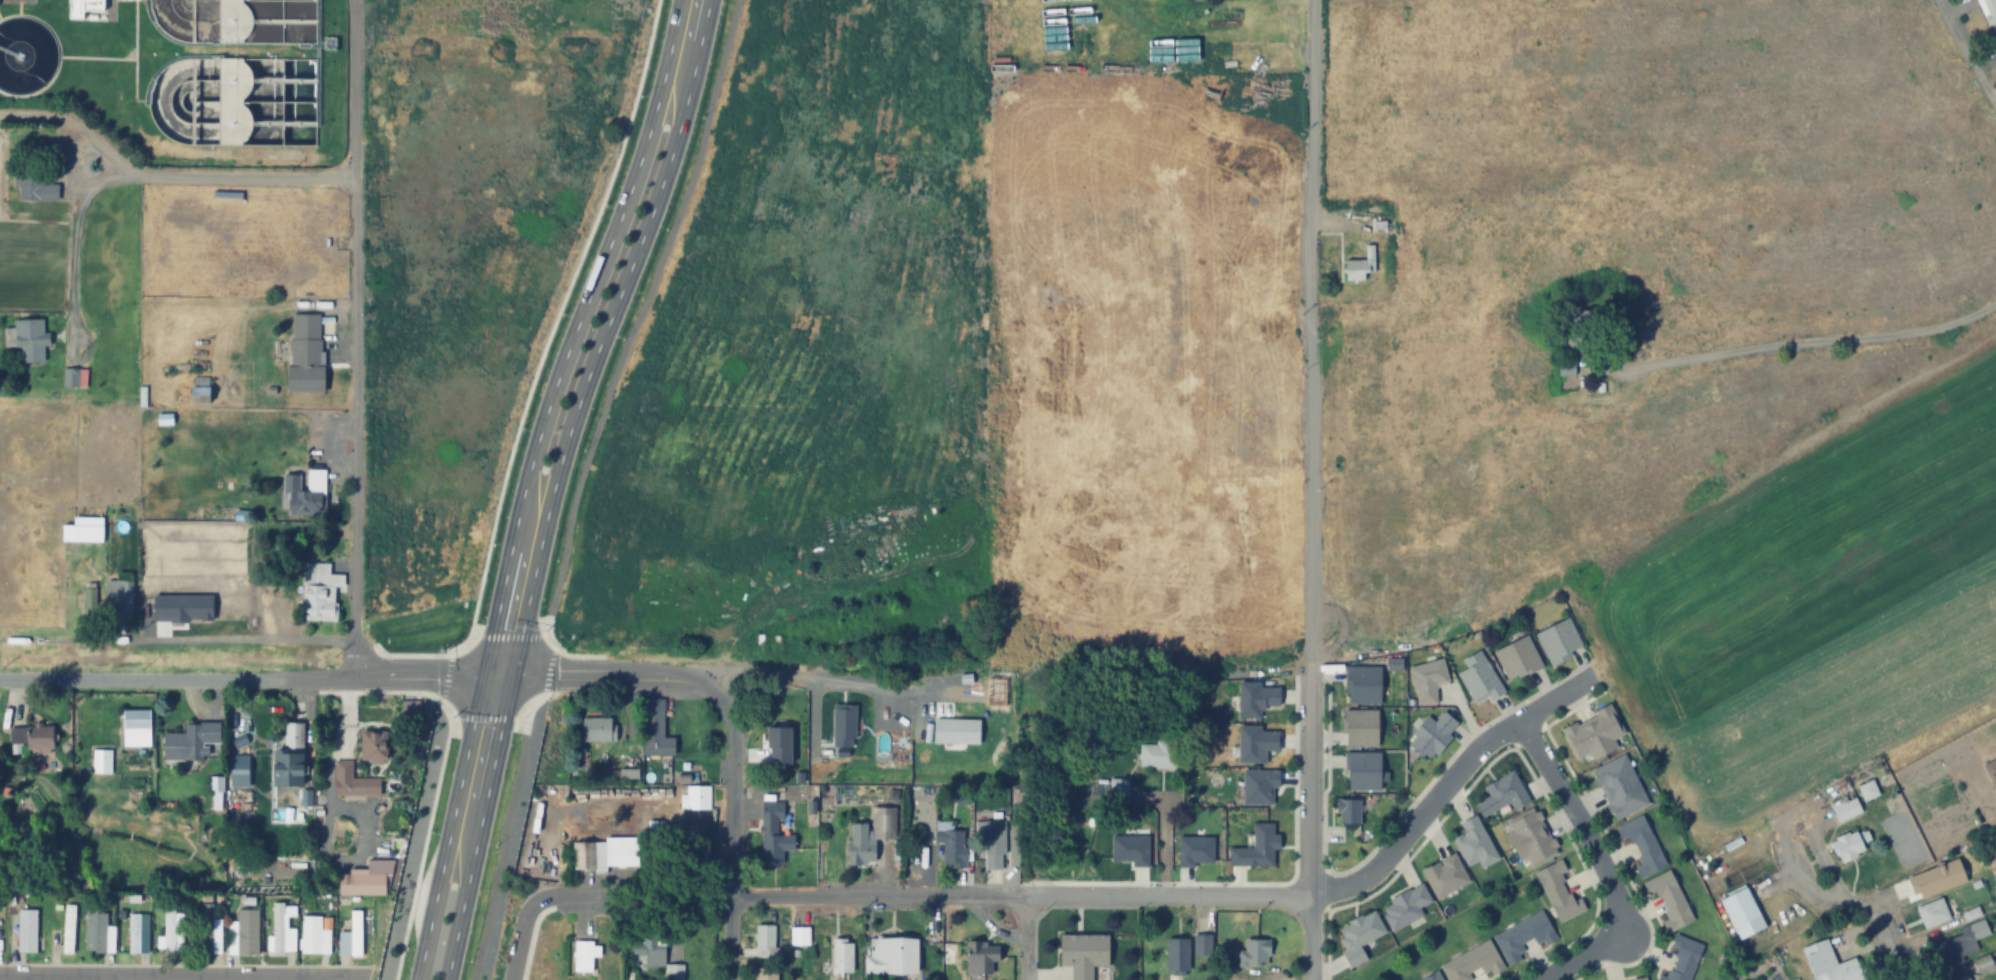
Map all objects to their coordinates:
building: (86, 9)
building: (1988, 10)
road: (1969, 51)
building: (260, 69)
wastewater plant: (186, 75)
road: (73, 124)
building: (1232, 157)
road: (244, 175)
building: (35, 187)
building: (1360, 266)
road: (1313, 279)
road: (357, 335)
building: (28, 340)
building: (305, 354)
building: (1570, 368)
building: (74, 377)
building: (201, 396)
road: (566, 411)
building: (1250, 426)
road: (581, 485)
building: (306, 495)
building: (82, 533)
building: (320, 593)
building: (119, 596)
building: (257, 604)
building: (1559, 641)
building: (1517, 658)
road: (369, 672)
building: (1479, 678)
building: (1427, 681)
building: (1363, 685)
building: (816, 704)
building: (1361, 728)
building: (137, 729)
building: (598, 729)
building: (655, 730)
building: (47, 733)
building: (1593, 735)
building: (1431, 736)
building: (189, 741)
building: (778, 744)
building: (374, 751)
building: (1157, 755)
building: (103, 762)
building: (288, 763)
road: (1312, 769)
building: (1992, 769)
building: (239, 771)
building: (1363, 771)
road: (1450, 781)
building: (353, 782)
building: (1619, 787)
building: (1118, 789)
building: (1867, 791)
building: (1503, 794)
building: (696, 798)
building: (1845, 809)
building: (1348, 811)
building: (656, 820)
road: (1578, 825)
building: (870, 835)
building: (773, 836)
building: (1530, 838)
road: (734, 841)
building: (685, 842)
building: (950, 843)
building: (1475, 843)
building: (992, 844)
building: (1850, 845)
building: (1642, 846)
building: (620, 853)
building: (1445, 875)
building: (366, 880)
building: (1558, 892)
road: (928, 896)
building: (1669, 900)
road: (432, 902)
road: (461, 905)
building: (1405, 906)
building: (1742, 913)
building: (1933, 913)
building: (134, 928)
building: (207, 928)
building: (278, 928)
building: (68, 929)
building: (169, 929)
building: (27, 931)
building: (95, 931)
building: (248, 932)
building: (356, 933)
building: (311, 935)
road: (522, 936)
building: (800, 936)
building: (1359, 936)
building: (1523, 936)
road: (1024, 938)
building: (765, 940)
road: (1891, 944)
building: (1961, 944)
building: (1203, 945)
building: (651, 948)
building: (587, 953)
building: (1083, 953)
building: (1254, 954)
building: (1177, 955)
building: (842, 956)
building: (892, 956)
building: (980, 957)
road: (1577, 958)
building: (1683, 959)
building: (1472, 962)
building: (1825, 963)
building: (1983, 964)
building: (768, 975)
building: (1434, 977)
building: (1967, 977)
road: (117, 978)

